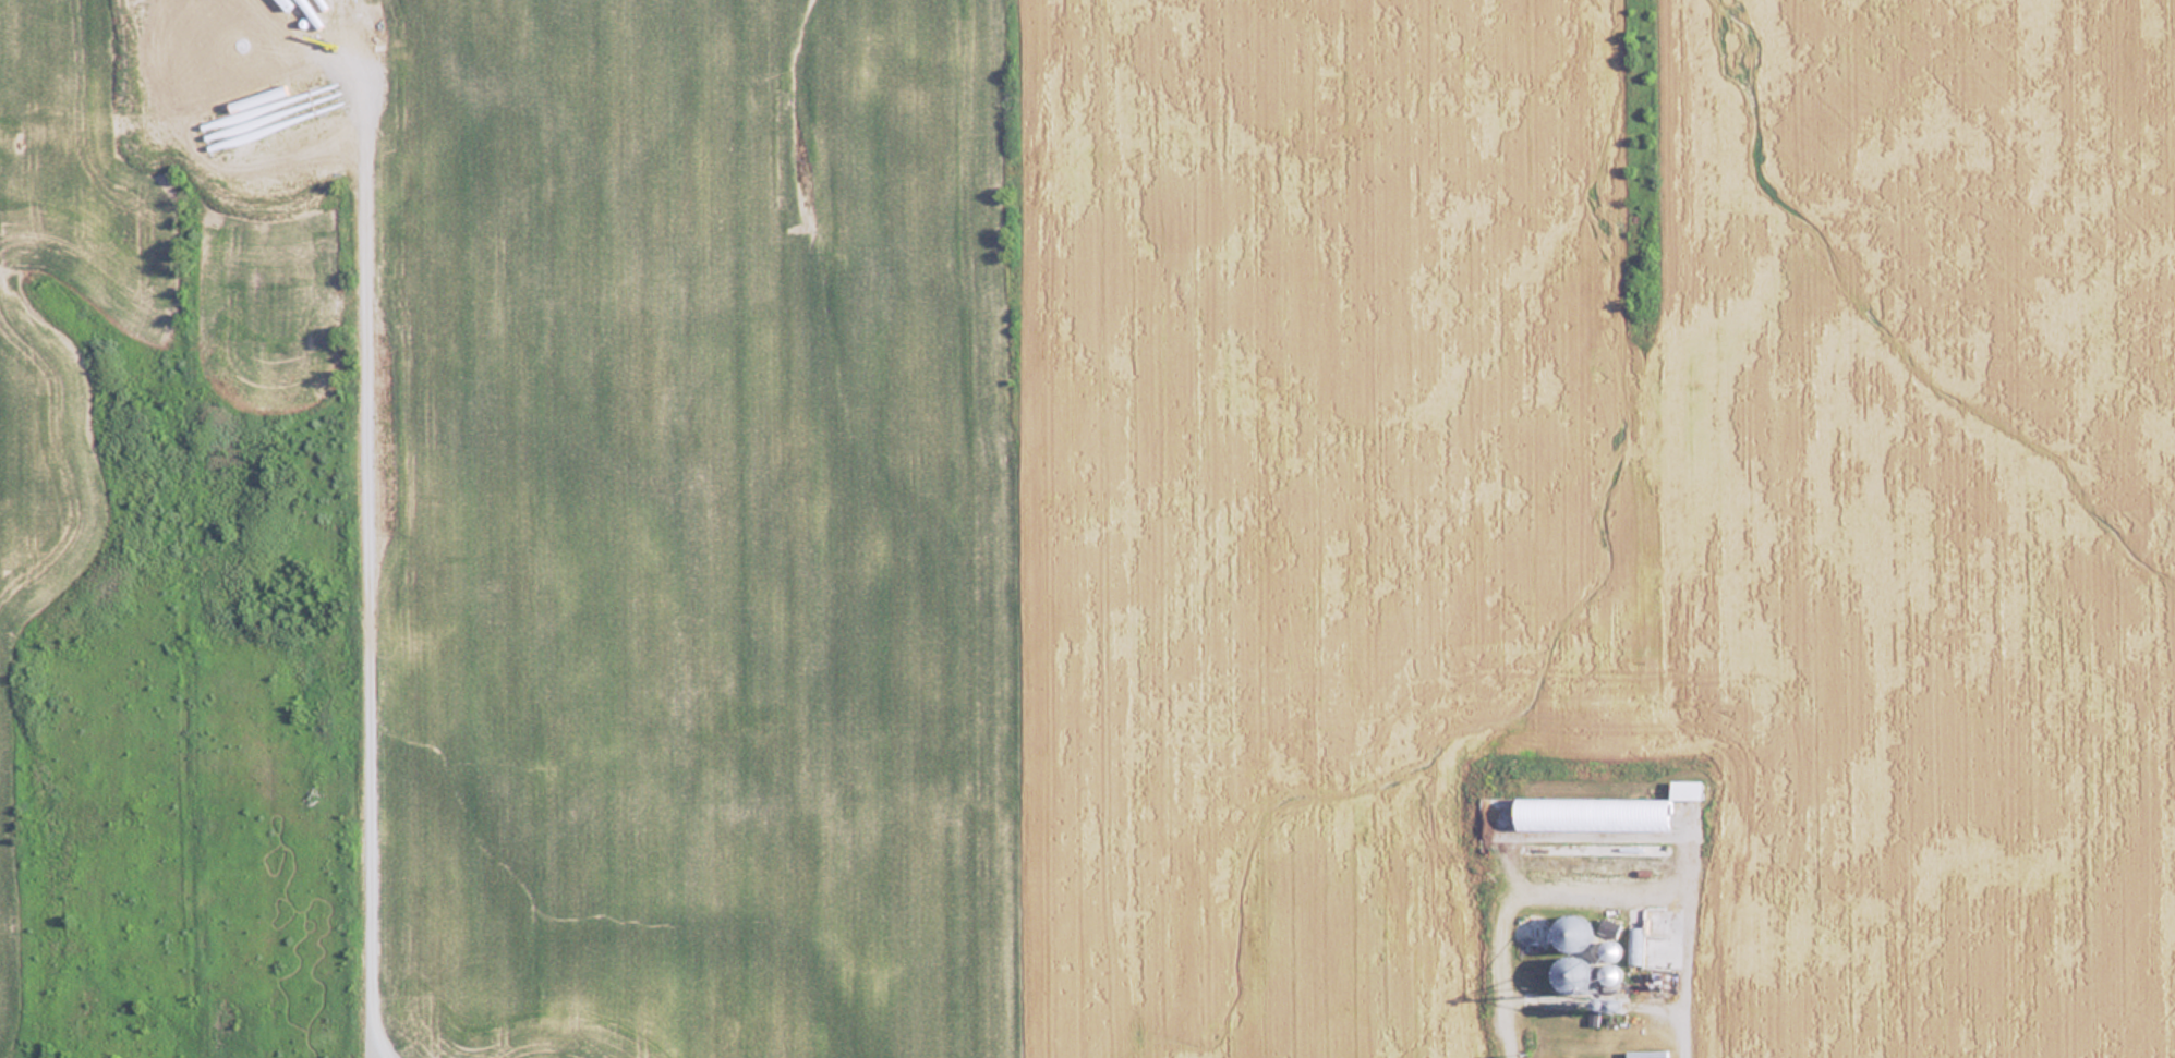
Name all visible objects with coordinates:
wind turbine: (250, 50)
building: (1603, 811)
road: (1597, 893)
building: (1570, 934)
building: (1567, 976)

